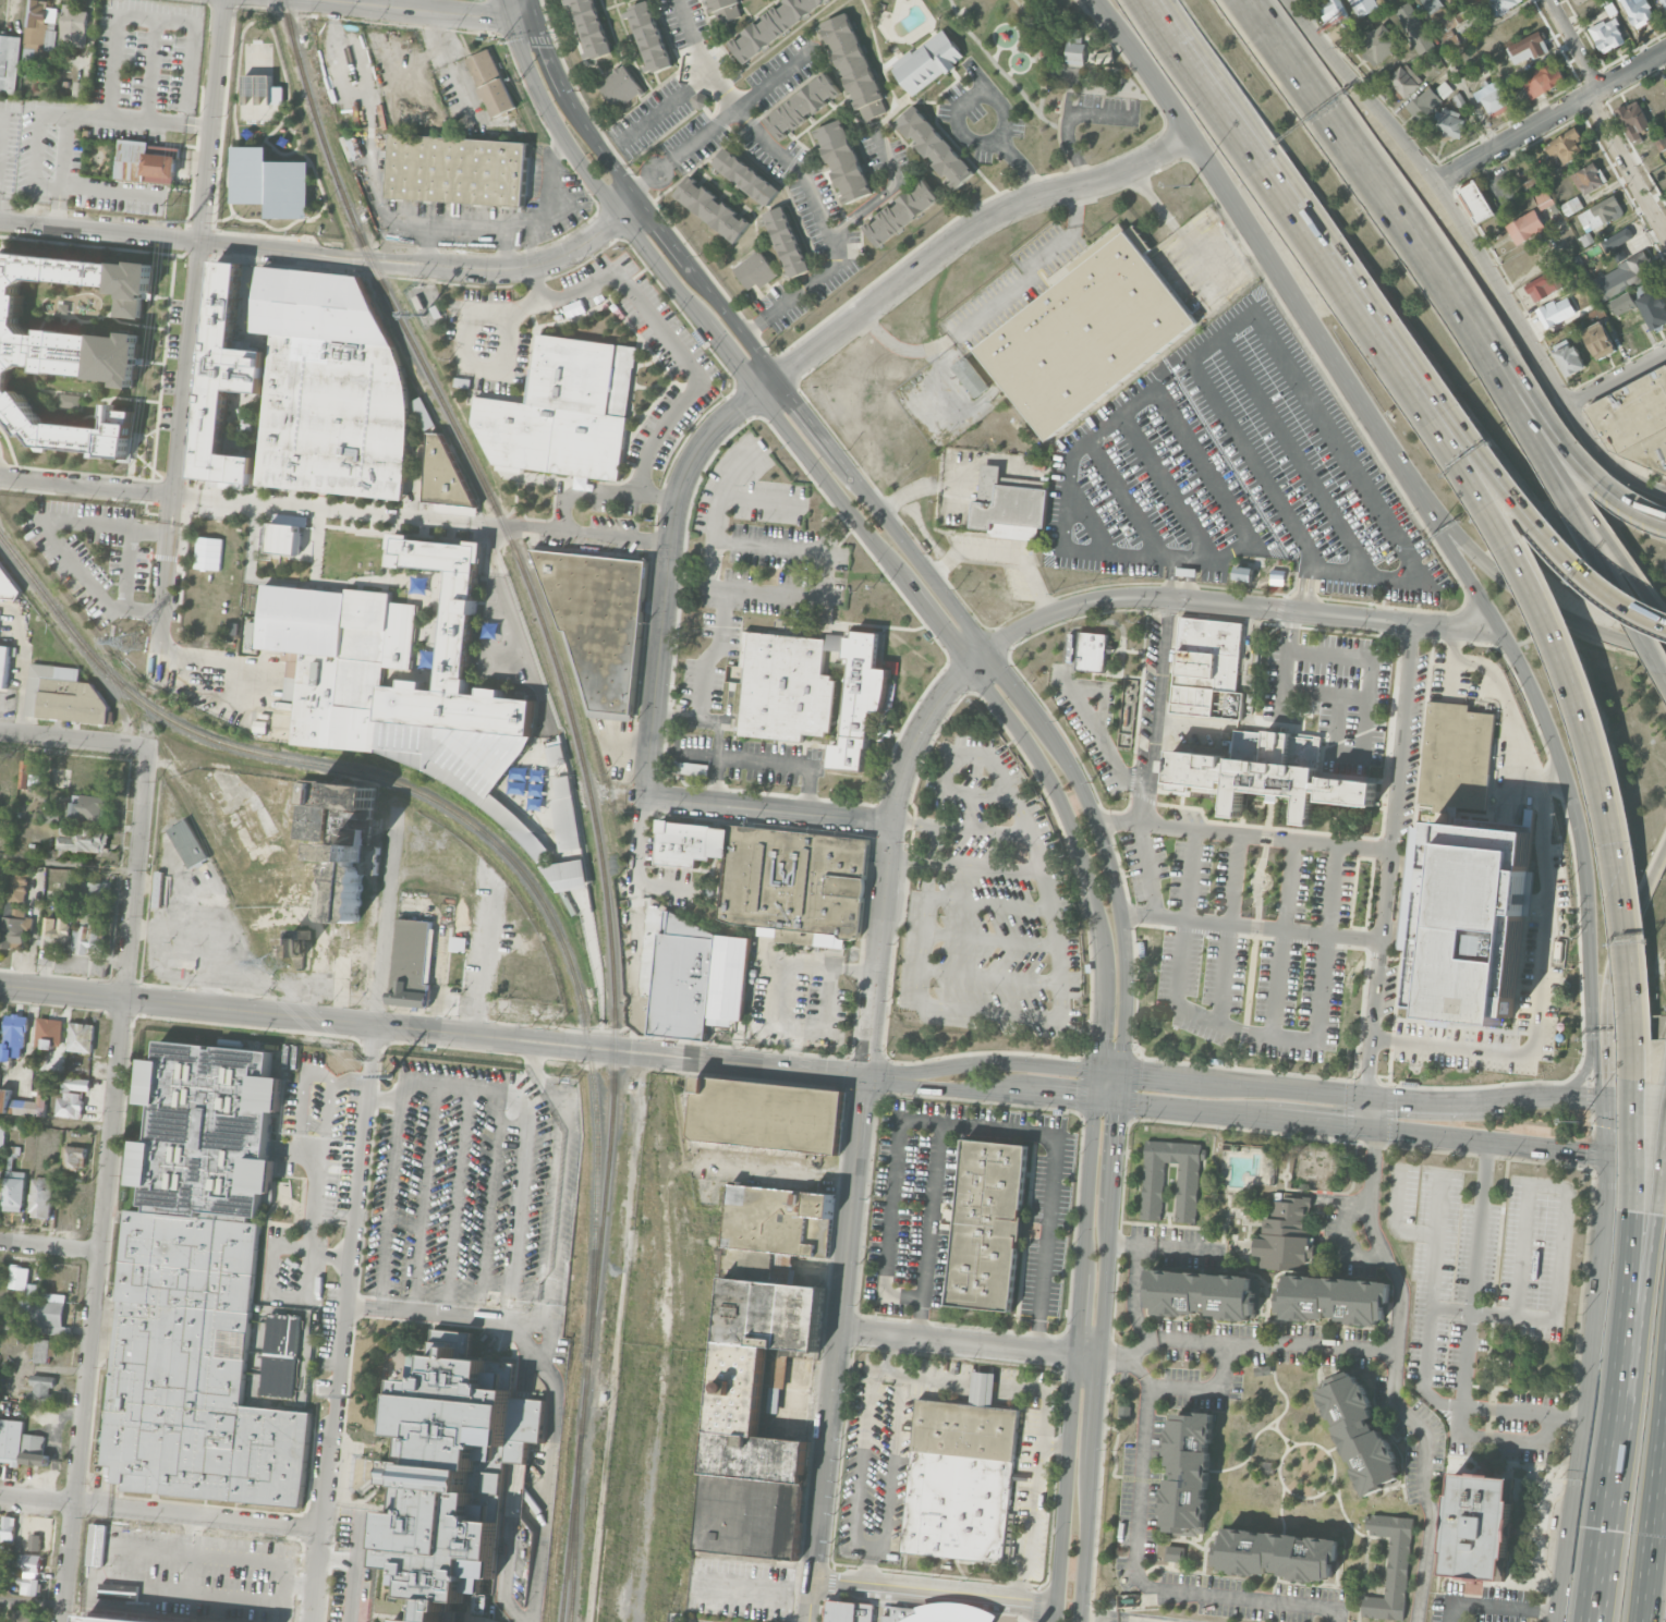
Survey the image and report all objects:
building: (1580, 1)
building: (1664, 2)
road: (415, 4)
building: (1432, 4)
building: (1364, 5)
building: (1500, 5)
building: (1334, 8)
road: (423, 9)
road: (508, 9)
road: (532, 10)
building: (726, 10)
building: (1638, 11)
road: (147, 14)
road: (523, 19)
road: (1109, 22)
road: (1117, 22)
building: (74, 25)
building: (771, 26)
building: (1414, 26)
building: (39, 27)
building: (591, 27)
building: (1607, 34)
building: (650, 35)
building: (1381, 41)
road: (1572, 45)
building: (1074, 46)
building: (1528, 47)
road: (1034, 54)
road: (548, 57)
road: (702, 57)
building: (1103, 57)
building: (9, 62)
building: (927, 62)
road: (452, 64)
building: (854, 65)
road: (153, 68)
road: (1000, 70)
park: (1057, 73)
road: (774, 78)
building: (1542, 78)
building: (491, 81)
building: (1402, 81)
road: (1206, 84)
building: (620, 85)
road: (1055, 87)
building: (81, 90)
building: (260, 97)
building: (701, 99)
building: (1495, 99)
road: (963, 100)
building: (1423, 103)
road: (666, 106)
building: (803, 106)
road: (1100, 112)
road: (88, 114)
road: (1546, 119)
building: (1632, 120)
building: (1448, 124)
road: (1066, 129)
building: (1565, 146)
road: (598, 147)
building: (935, 147)
building: (843, 160)
building: (146, 161)
road: (1022, 163)
road: (1626, 168)
building: (458, 169)
road: (1370, 174)
road: (648, 176)
building: (745, 176)
building: (1588, 178)
building: (270, 182)
road: (799, 182)
road: (41, 183)
road: (879, 193)
building: (1544, 196)
building: (1475, 199)
road: (545, 203)
building: (1571, 206)
building: (713, 208)
building: (901, 212)
building: (1600, 212)
power tower: (189, 220)
building: (1525, 225)
road: (966, 228)
road: (661, 231)
road: (1182, 235)
building: (786, 240)
building: (1617, 242)
road: (198, 246)
road: (328, 254)
road: (1472, 256)
road: (1269, 259)
building: (755, 269)
building: (1619, 277)
road: (535, 284)
road: (1351, 285)
building: (1543, 285)
building: (1622, 302)
road: (990, 305)
building: (1654, 308)
building: (1552, 313)
road: (649, 315)
road: (730, 318)
road: (754, 328)
building: (1085, 334)
road: (1273, 337)
building: (1601, 339)
building: (71, 352)
parking lot: (486, 358)
building: (1570, 359)
road: (483, 369)
road: (1498, 369)
building: (970, 375)
road: (1615, 378)
building: (223, 380)
building: (329, 383)
road: (765, 383)
building: (563, 410)
road: (806, 417)
building: (1635, 418)
road: (1539, 438)
road: (1567, 448)
road: (1296, 454)
parking lot: (1232, 471)
road: (1495, 475)
building: (445, 476)
road: (962, 483)
road: (86, 484)
road: (1165, 487)
road: (603, 490)
road: (1127, 498)
road: (764, 499)
building: (1006, 505)
road: (320, 507)
road: (718, 508)
road: (1090, 519)
road: (859, 525)
road: (514, 526)
road: (51, 530)
road: (616, 537)
building: (288, 538)
road: (1618, 551)
parking lot: (95, 552)
road: (1004, 552)
road: (913, 554)
road: (1196, 559)
road: (126, 568)
building: (1278, 570)
building: (1243, 572)
road: (1181, 577)
road: (1616, 578)
road: (666, 580)
building: (8, 585)
railway: (38, 585)
road: (162, 588)
road: (1519, 589)
road: (1608, 590)
road: (822, 597)
road: (1238, 602)
road: (791, 613)
building: (598, 620)
road: (863, 624)
road: (1503, 631)
building: (835, 642)
power tower: (132, 644)
building: (1087, 649)
road: (1124, 649)
building: (457, 654)
road: (710, 654)
road: (1121, 656)
building: (332, 660)
road: (24, 661)
road: (1452, 662)
building: (4, 664)
building: (1206, 669)
road: (1665, 670)
road: (1119, 674)
road: (214, 680)
road: (1011, 680)
building: (785, 686)
railway: (566, 691)
road: (1106, 694)
building: (63, 695)
road: (1350, 695)
road: (890, 696)
building: (860, 698)
building: (1128, 712)
road: (1284, 717)
road: (694, 718)
building: (260, 725)
road: (2, 730)
road: (1099, 734)
road: (76, 737)
road: (815, 744)
road: (803, 749)
road: (1152, 756)
building: (1457, 756)
road: (764, 760)
road: (718, 763)
building: (1267, 771)
building: (32, 775)
road: (1552, 781)
building: (90, 807)
road: (767, 809)
building: (52, 815)
building: (566, 815)
road: (1268, 820)
road: (1244, 836)
building: (340, 838)
building: (83, 839)
building: (189, 843)
building: (690, 843)
railway: (374, 845)
road: (889, 847)
road: (1393, 859)
road: (636, 863)
road: (700, 864)
road: (68, 865)
railway: (515, 865)
road: (683, 867)
road: (713, 870)
road: (1651, 874)
building: (568, 876)
building: (794, 881)
road: (1112, 882)
building: (17, 887)
building: (99, 888)
building: (158, 889)
road: (696, 889)
road: (1624, 897)
road: (707, 898)
parking lot: (989, 902)
building: (0, 905)
road: (1547, 915)
building: (1473, 924)
road: (1588, 924)
road: (1251, 926)
building: (14, 927)
road: (1229, 928)
building: (71, 934)
road: (1255, 934)
road: (1284, 938)
building: (458, 944)
road: (1619, 946)
building: (299, 947)
building: (410, 961)
power tower: (275, 965)
road: (789, 974)
building: (729, 977)
building: (682, 980)
building: (285, 981)
road: (253, 1011)
building: (49, 1033)
road: (1255, 1034)
road: (31, 1035)
building: (14, 1037)
building: (81, 1037)
traffic signals: (1099, 1037)
road: (604, 1040)
road: (1608, 1042)
road: (368, 1054)
road: (603, 1054)
road: (982, 1060)
road: (785, 1065)
road: (1109, 1071)
traffic signals: (867, 1074)
traffic signals: (1142, 1074)
power tower: (390, 1075)
traffic signals: (1596, 1075)
traffic signals: (1609, 1075)
road: (1581, 1076)
road: (1596, 1076)
road: (931, 1085)
road: (1095, 1085)
road: (485, 1086)
road: (1120, 1088)
road: (1012, 1094)
road: (1340, 1095)
building: (72, 1097)
road: (1582, 1097)
road: (1060, 1098)
traffic signals: (1074, 1100)
traffic signals: (1397, 1100)
traffic signals: (1631, 1101)
road: (1635, 1101)
road: (1106, 1102)
building: (23, 1103)
road: (1193, 1111)
road: (1369, 1112)
building: (766, 1115)
road: (56, 1123)
traffic signals: (1118, 1123)
road: (1317, 1123)
road: (112, 1125)
traffic signals: (1343, 1125)
road: (1000, 1127)
road: (1606, 1127)
building: (2, 1135)
road: (1487, 1141)
traffic signals: (1374, 1145)
road: (1116, 1153)
traffic signals: (1585, 1153)
building: (74, 1157)
road: (1637, 1159)
building: (1315, 1164)
road: (1282, 1174)
building: (14, 1190)
road: (1314, 1190)
building: (1155, 1192)
road: (545, 1196)
building: (41, 1197)
road: (388, 1197)
road: (1370, 1199)
road: (311, 1205)
road: (891, 1205)
road: (1562, 1210)
road: (1395, 1219)
building: (987, 1225)
building: (774, 1229)
road: (1343, 1232)
building: (1287, 1235)
road: (1123, 1244)
road: (51, 1247)
road: (1180, 1248)
road: (1473, 1272)
building: (19, 1277)
road: (1106, 1279)
building: (203, 1291)
road: (1133, 1295)
road: (1646, 1295)
building: (1203, 1296)
building: (1336, 1302)
road: (1428, 1304)
building: (47, 1314)
road: (441, 1317)
road: (842, 1326)
road: (1273, 1341)
road: (970, 1344)
building: (759, 1346)
building: (44, 1349)
road: (1128, 1358)
road: (1074, 1362)
road: (1273, 1366)
building: (1264, 1371)
building: (42, 1388)
road: (1207, 1389)
road: (1589, 1389)
power tower: (351, 1395)
road: (1045, 1402)
road: (333, 1407)
road: (1095, 1408)
building: (1126, 1411)
road: (1522, 1415)
road: (1664, 1416)
road: (1106, 1427)
road: (1279, 1434)
road: (1664, 1434)
building: (1360, 1435)
road: (1423, 1439)
road: (1054, 1441)
road: (1498, 1441)
building: (21, 1444)
road: (56, 1446)
road: (1115, 1459)
road: (1279, 1467)
building: (452, 1469)
road: (1333, 1469)
road: (545, 1471)
building: (1190, 1472)
building: (961, 1479)
road: (1334, 1489)
building: (750, 1496)
road: (7, 1498)
road: (44, 1501)
road: (1280, 1509)
road: (197, 1517)
road: (1604, 1525)
road: (1352, 1526)
railway: (570, 1527)
railway: (575, 1527)
building: (1479, 1529)
building: (8, 1530)
building: (37, 1534)
road: (194, 1535)
road: (1652, 1535)
road: (1085, 1541)
road: (862, 1546)
road: (358, 1548)
building: (1279, 1551)
building: (1176, 1552)
building: (28, 1562)
road: (66, 1562)
road: (96, 1562)
road: (317, 1565)
road: (867, 1565)
building: (1393, 1565)
road: (1136, 1571)
road: (1364, 1576)
building: (31, 1586)
road: (933, 1590)
road: (811, 1599)
road: (284, 1601)
road: (31, 1602)
road: (1496, 1607)
building: (0, 1610)
building: (849, 1612)
building: (901, 1612)
building: (950, 1612)
road: (813, 1614)
building: (24, 1615)
road: (1114, 1618)
building: (107, 1620)

